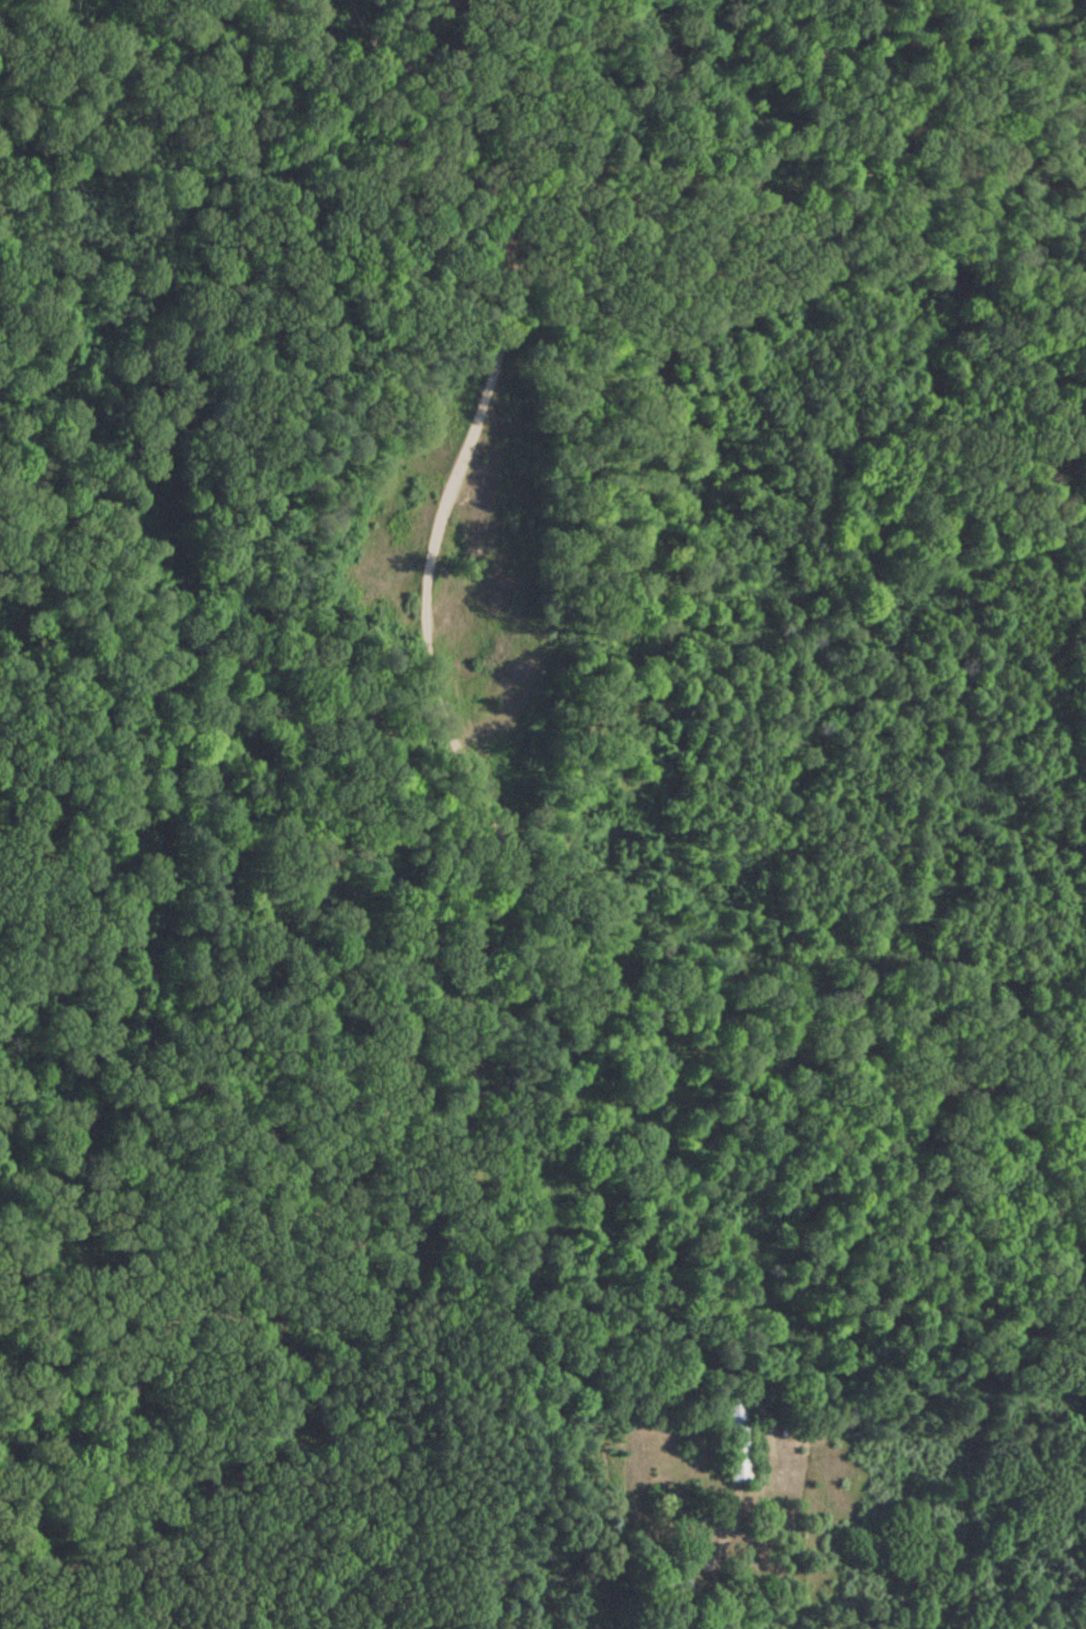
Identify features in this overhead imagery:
road: (289, 1317)
building: (734, 1431)

